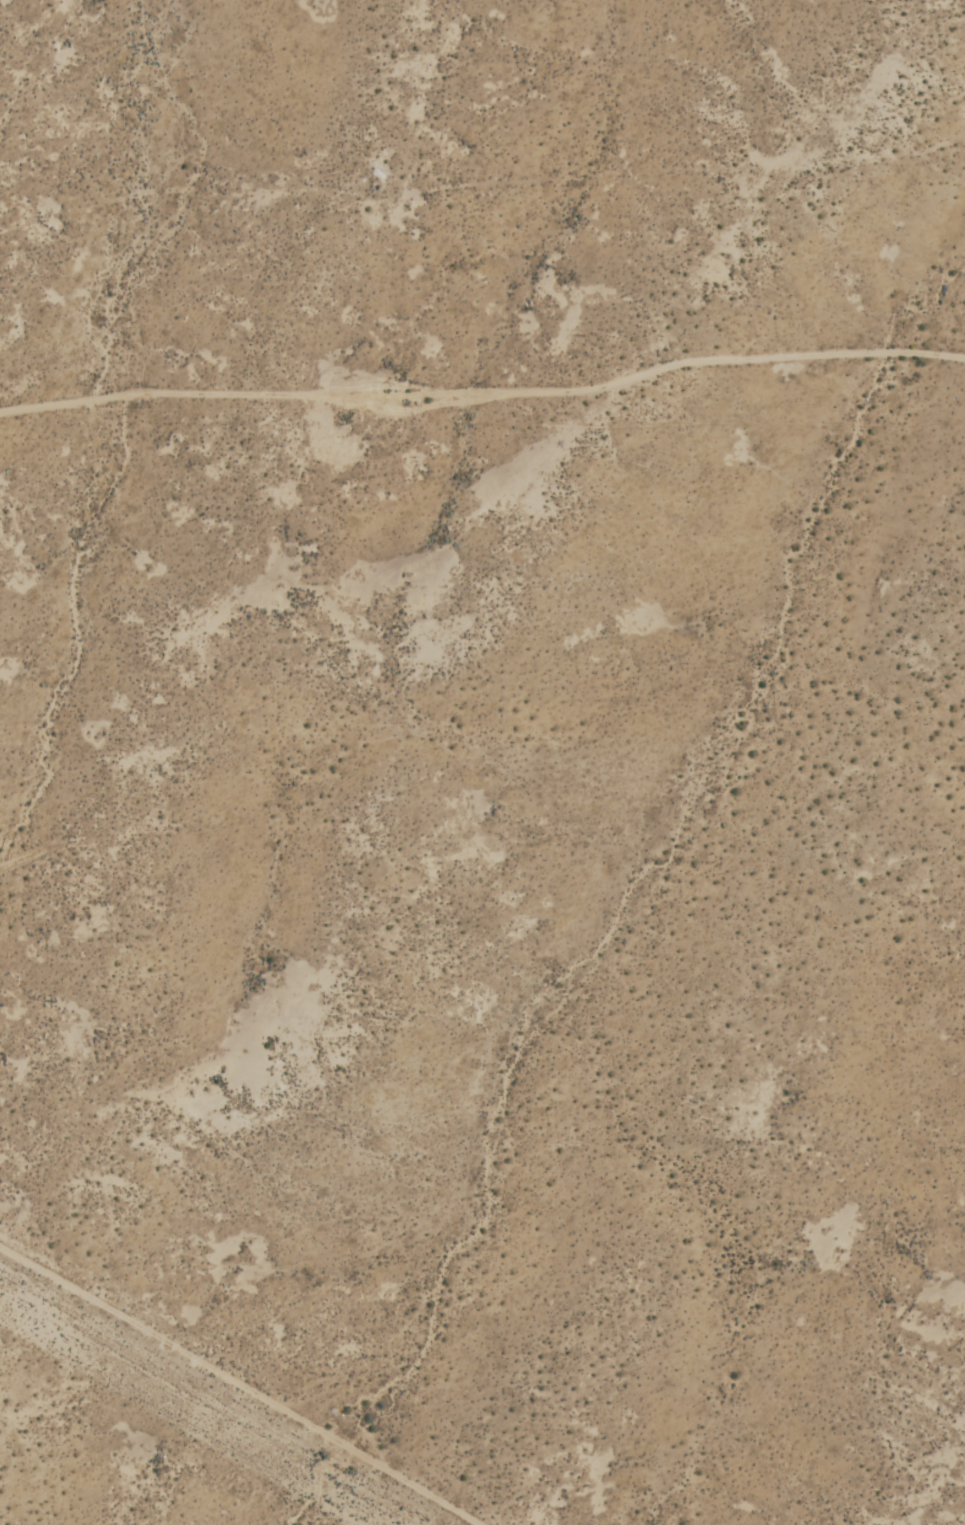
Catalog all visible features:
road: (241, 1384)

